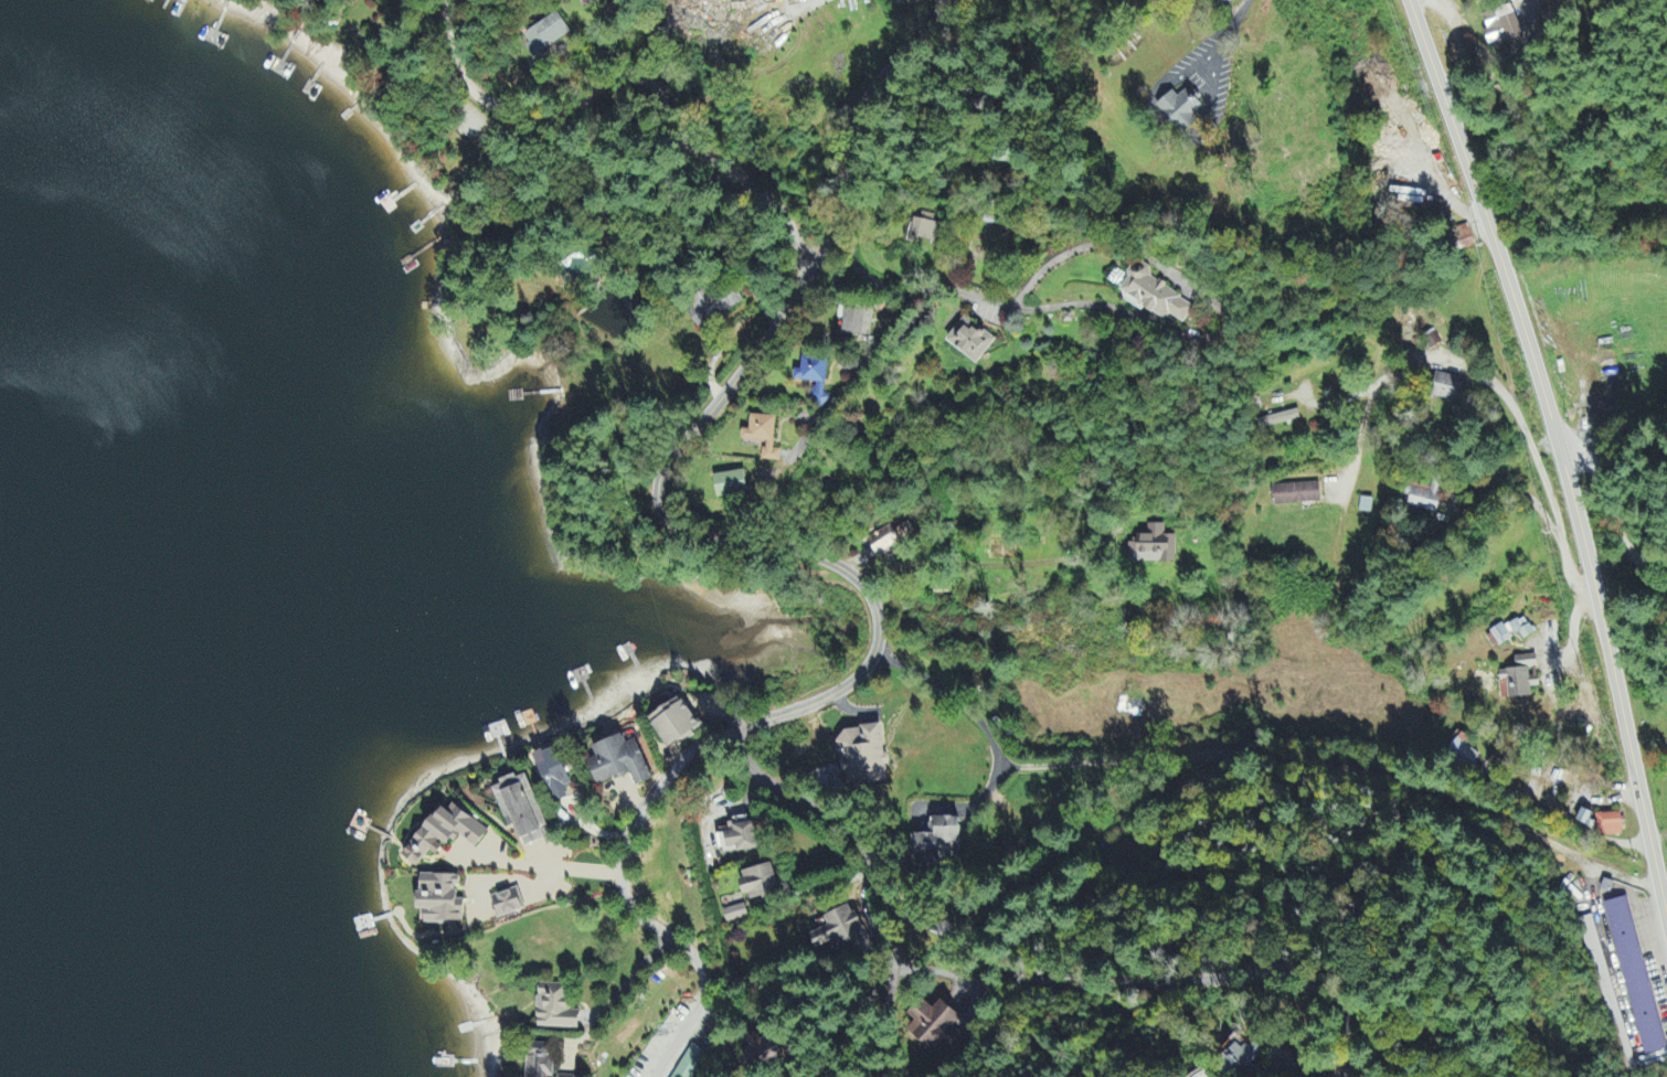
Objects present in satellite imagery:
building: (585, 1)
building: (1224, 1)
building: (1499, 28)
building: (549, 34)
road: (1227, 36)
road: (630, 75)
building: (1176, 105)
road: (858, 125)
park: (1187, 189)
building: (926, 227)
building: (1465, 237)
building: (1157, 297)
building: (714, 305)
road: (1018, 308)
building: (971, 341)
building: (815, 377)
building: (1446, 388)
building: (1282, 420)
road: (1549, 430)
building: (764, 438)
road: (1557, 451)
building: (732, 486)
building: (1296, 495)
building: (1426, 499)
road: (1612, 512)
building: (891, 538)
building: (1154, 548)
road: (871, 600)
building: (1512, 633)
building: (1521, 679)
building: (676, 725)
building: (1464, 754)
building: (863, 756)
road: (1023, 758)
building: (619, 763)
building: (521, 810)
building: (1586, 819)
building: (1611, 827)
building: (445, 834)
building: (741, 838)
building: (942, 839)
building: (761, 884)
building: (440, 902)
building: (507, 905)
building: (736, 915)
road: (941, 927)
building: (840, 930)
building: (1599, 966)
road: (1242, 978)
building: (1636, 978)
building: (556, 1010)
building: (934, 1025)
road: (885, 1027)
river: (30, 1051)
building: (1243, 1057)
building: (1627, 1062)

